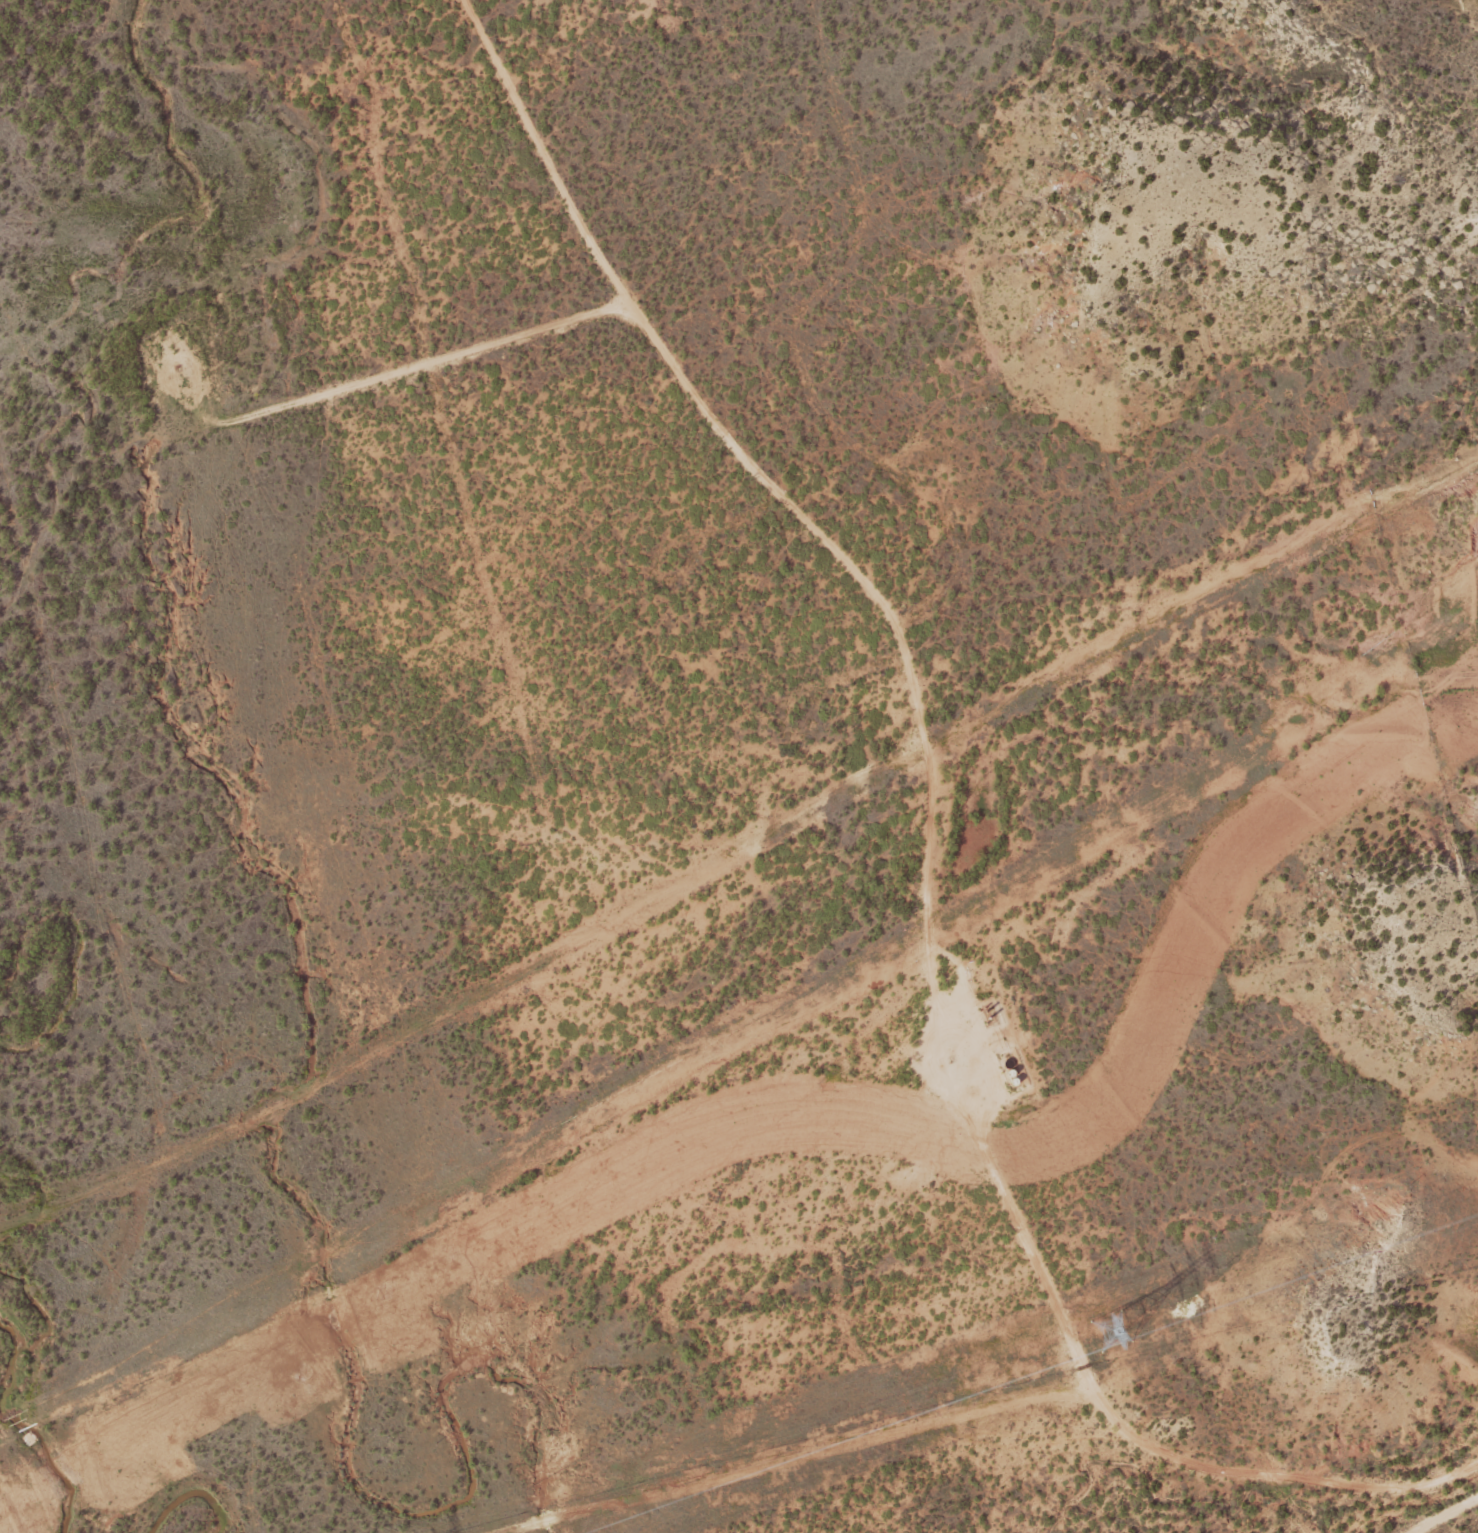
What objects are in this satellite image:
power tower: (1114, 1331)

